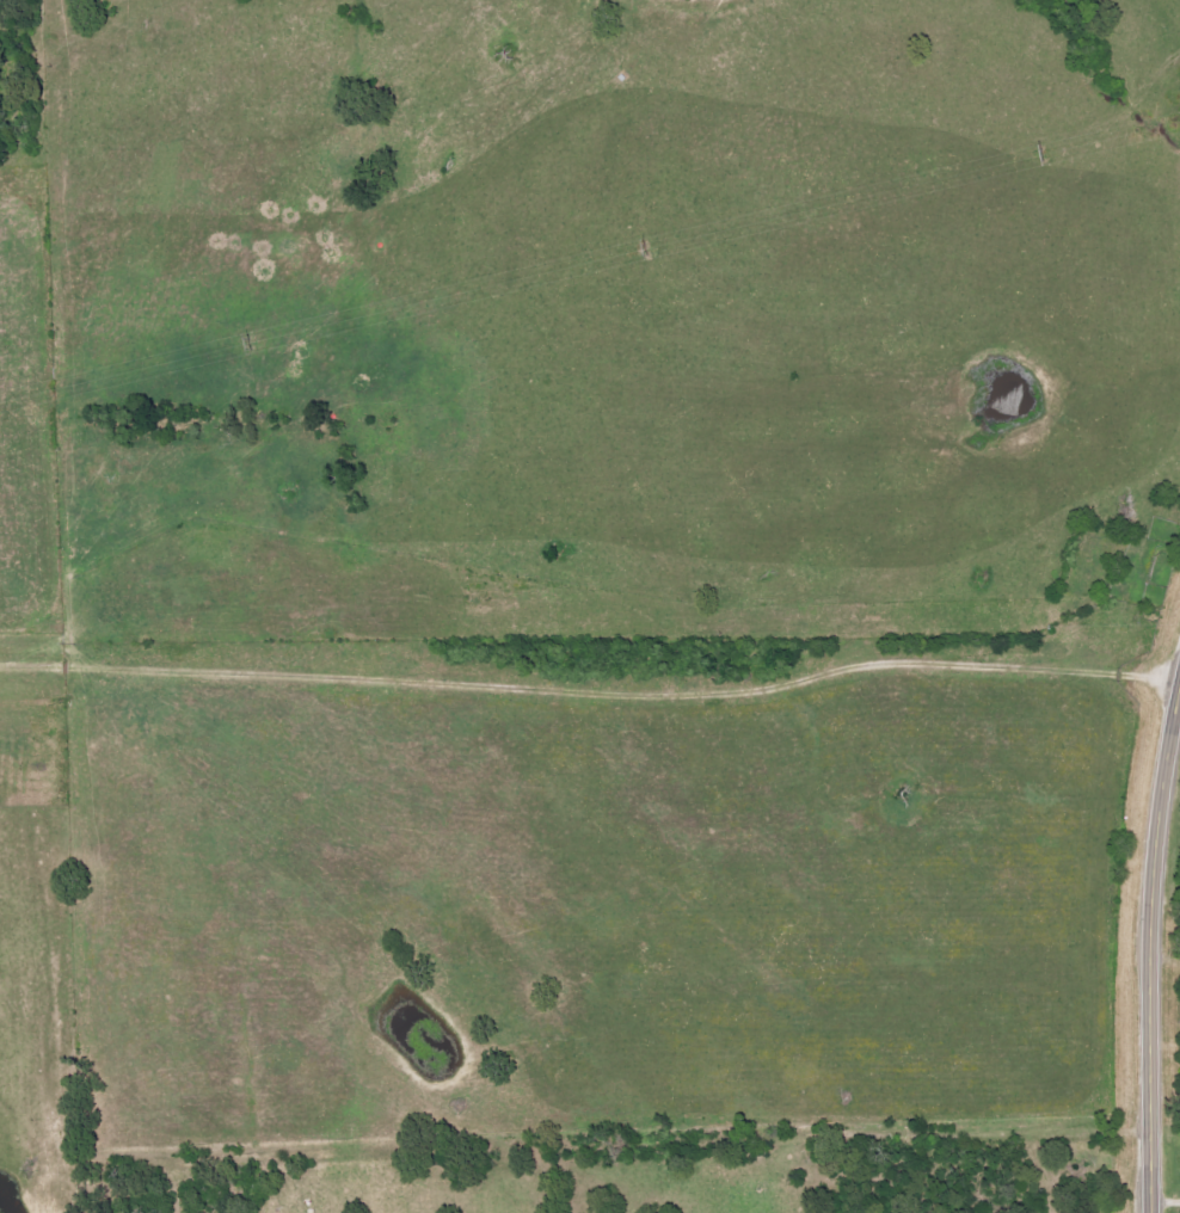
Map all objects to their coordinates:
power tower: (1037, 156)
power tower: (637, 252)
power tower: (246, 345)
road: (1151, 948)

